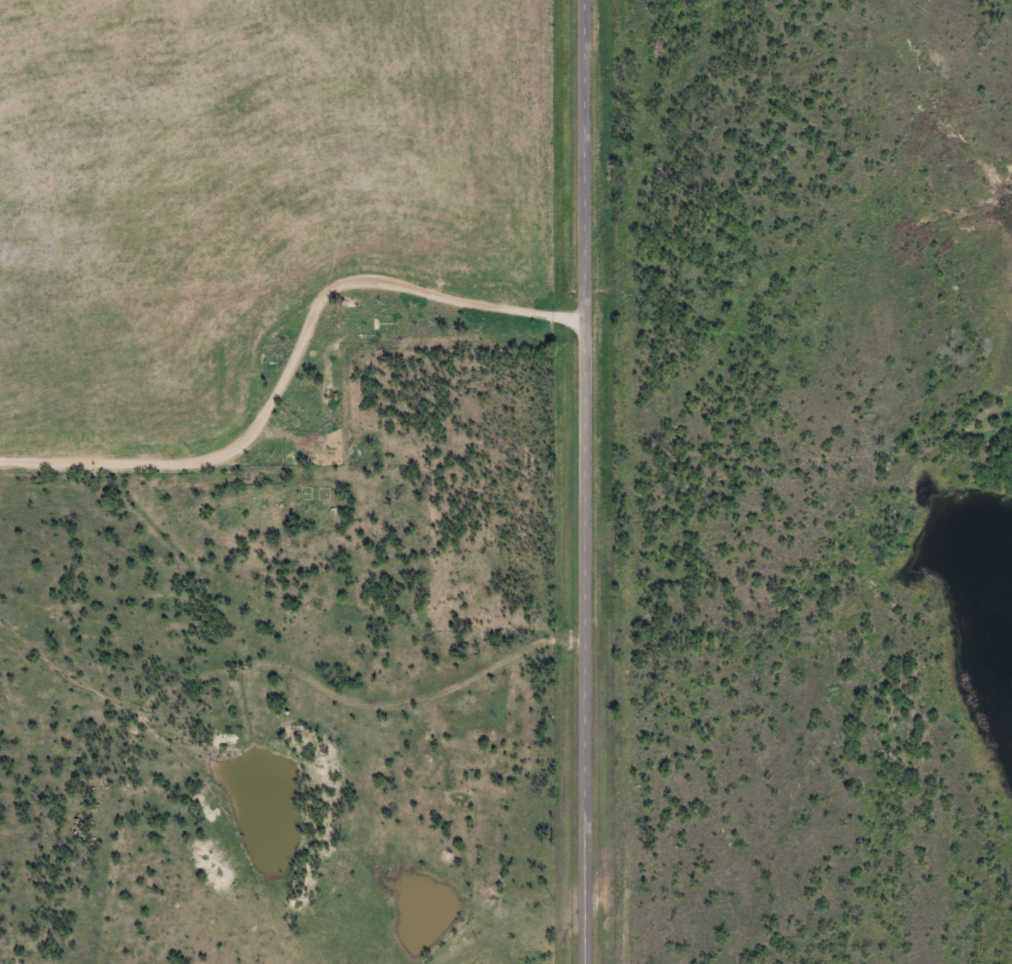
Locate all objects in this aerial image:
power tower: (980, 45)
road: (287, 371)
road: (578, 482)

